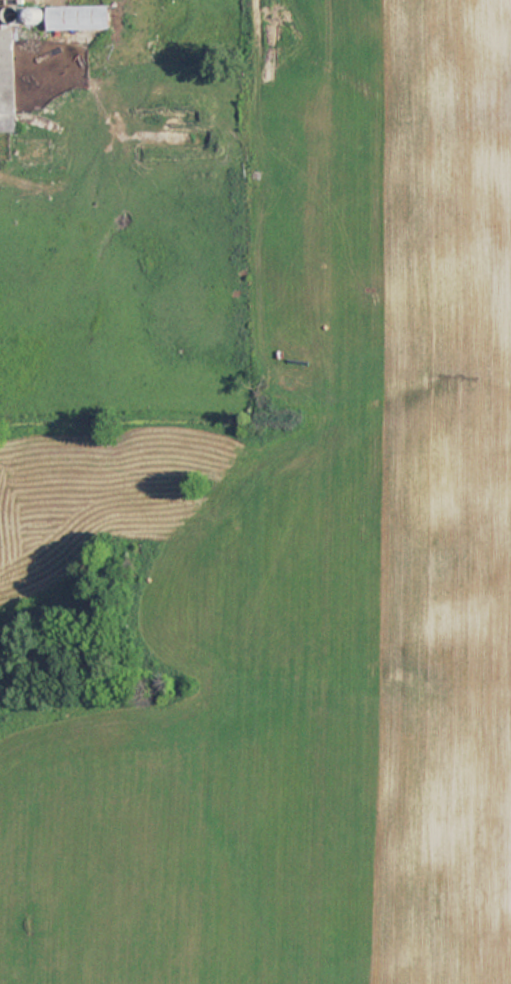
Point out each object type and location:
building: (78, 18)
building: (7, 81)

